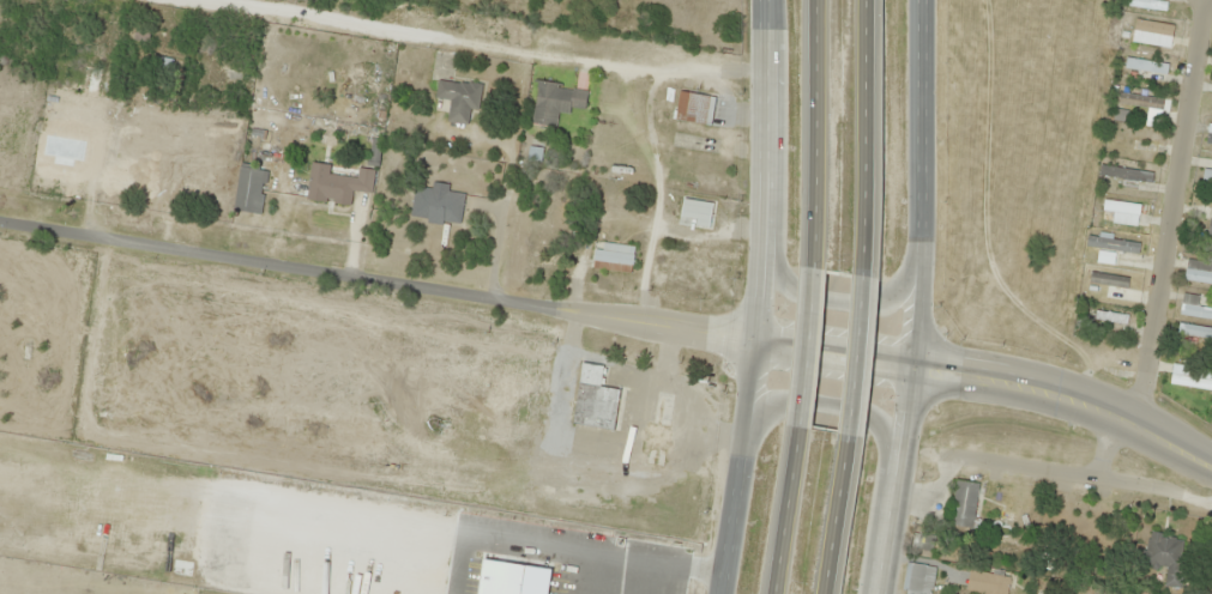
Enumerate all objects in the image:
building: (1147, 4)
building: (1153, 26)
building: (162, 56)
building: (1146, 65)
building: (231, 68)
building: (89, 84)
building: (459, 98)
building: (555, 102)
building: (1142, 103)
building: (694, 107)
road: (818, 133)
road: (870, 134)
building: (1208, 137)
building: (54, 141)
building: (1126, 174)
building: (1207, 175)
building: (131, 184)
building: (328, 184)
building: (249, 189)
building: (197, 194)
building: (436, 204)
road: (1168, 210)
building: (697, 212)
building: (1120, 212)
building: (1210, 230)
building: (1111, 248)
building: (614, 256)
building: (1198, 271)
road: (378, 285)
road: (917, 297)
road: (762, 298)
road: (845, 301)
building: (1194, 308)
building: (1110, 317)
building: (1194, 331)
road: (809, 350)
road: (857, 352)
road: (991, 380)
building: (595, 399)
road: (832, 407)
building: (964, 502)
road: (788, 514)
road: (837, 514)
building: (1166, 556)
building: (913, 577)
building: (995, 584)

